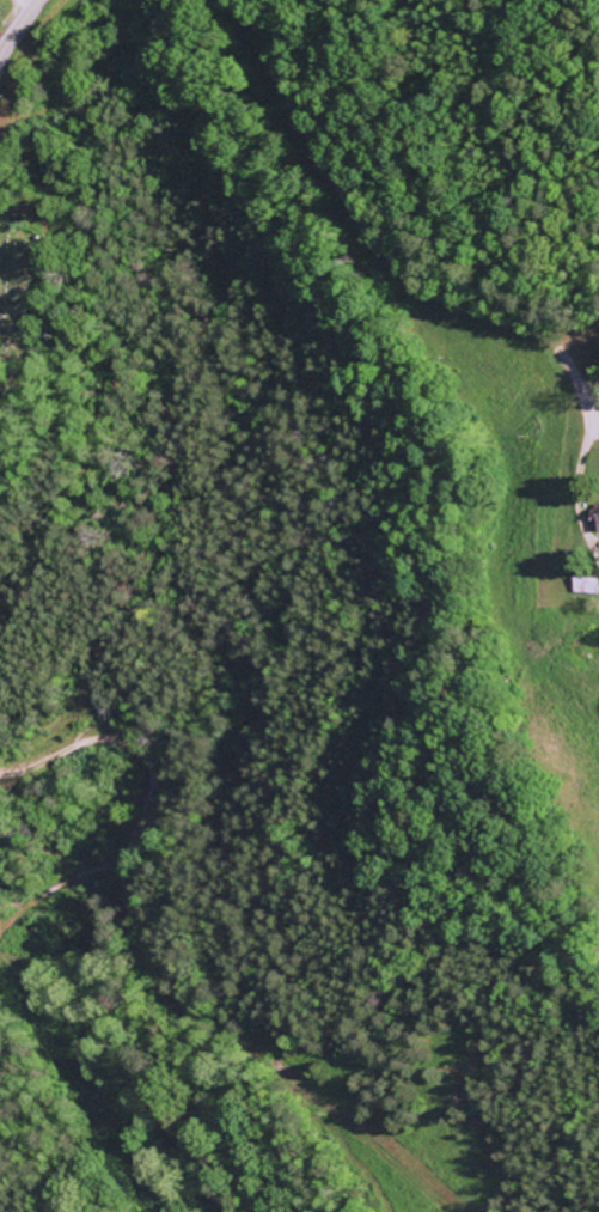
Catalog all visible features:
road: (26, 5)
road: (19, 28)
road: (429, 291)
park: (14, 300)
road: (134, 738)

